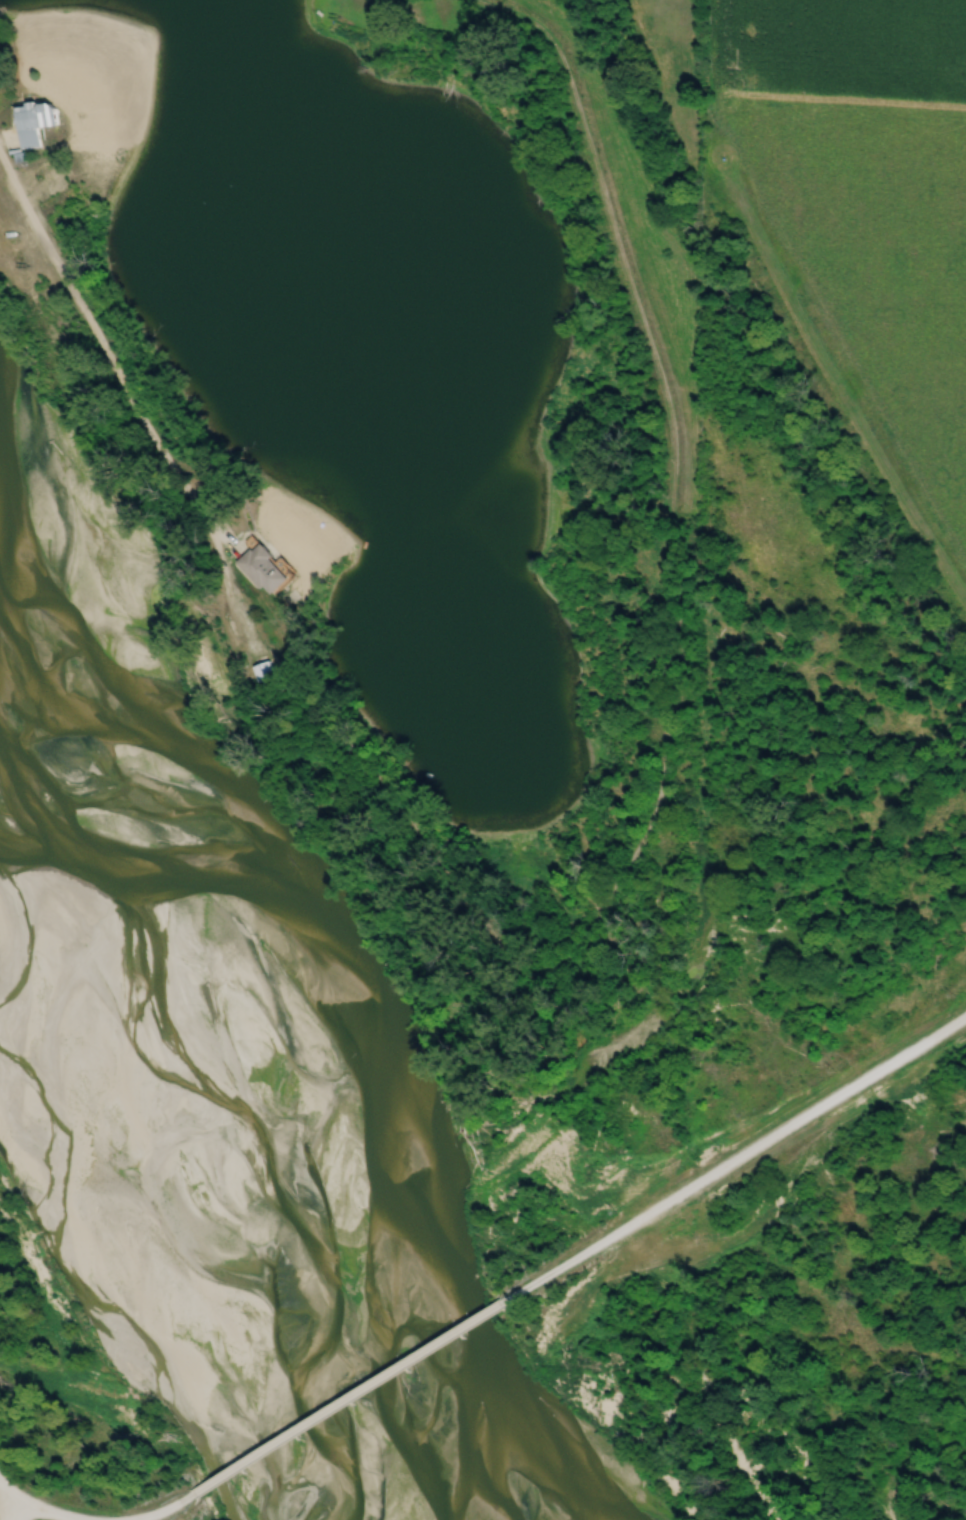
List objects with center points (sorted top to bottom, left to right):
building: (36, 124)
road: (669, 452)
building: (267, 569)
road: (265, 613)
building: (268, 674)
river: (210, 1122)
road: (744, 1156)
road: (355, 1399)
road: (34, 1504)
road: (10, 1505)
road: (170, 1512)

